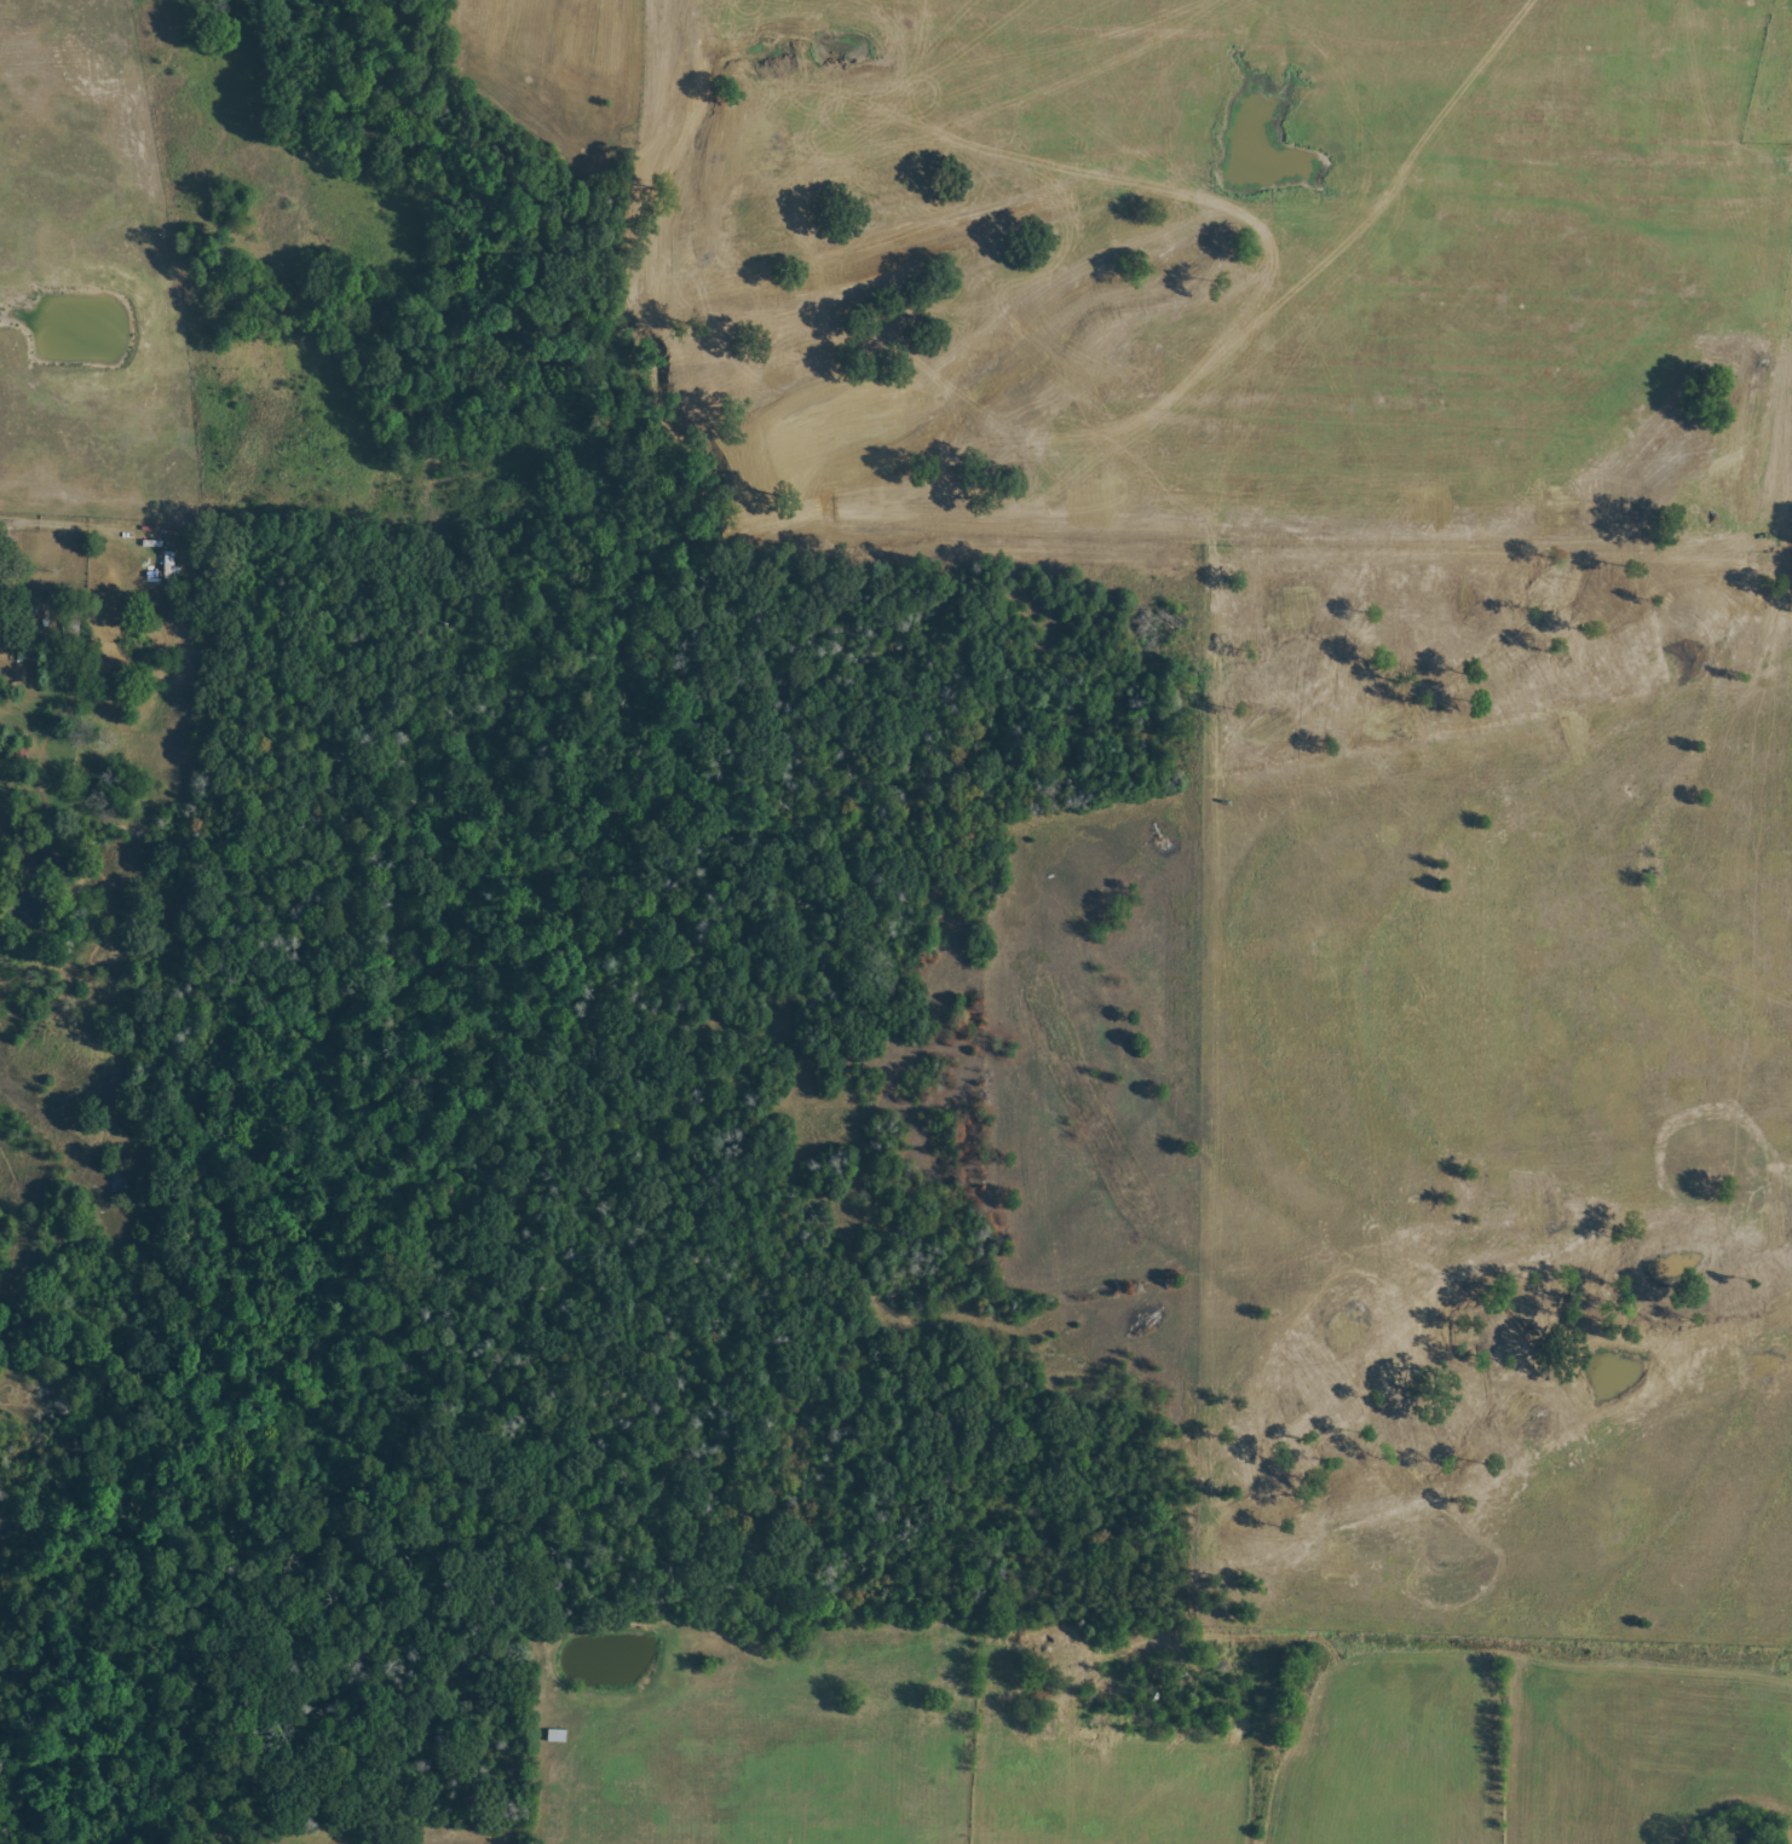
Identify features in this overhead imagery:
road: (11, 521)
road: (92, 531)
building: (36, 603)

